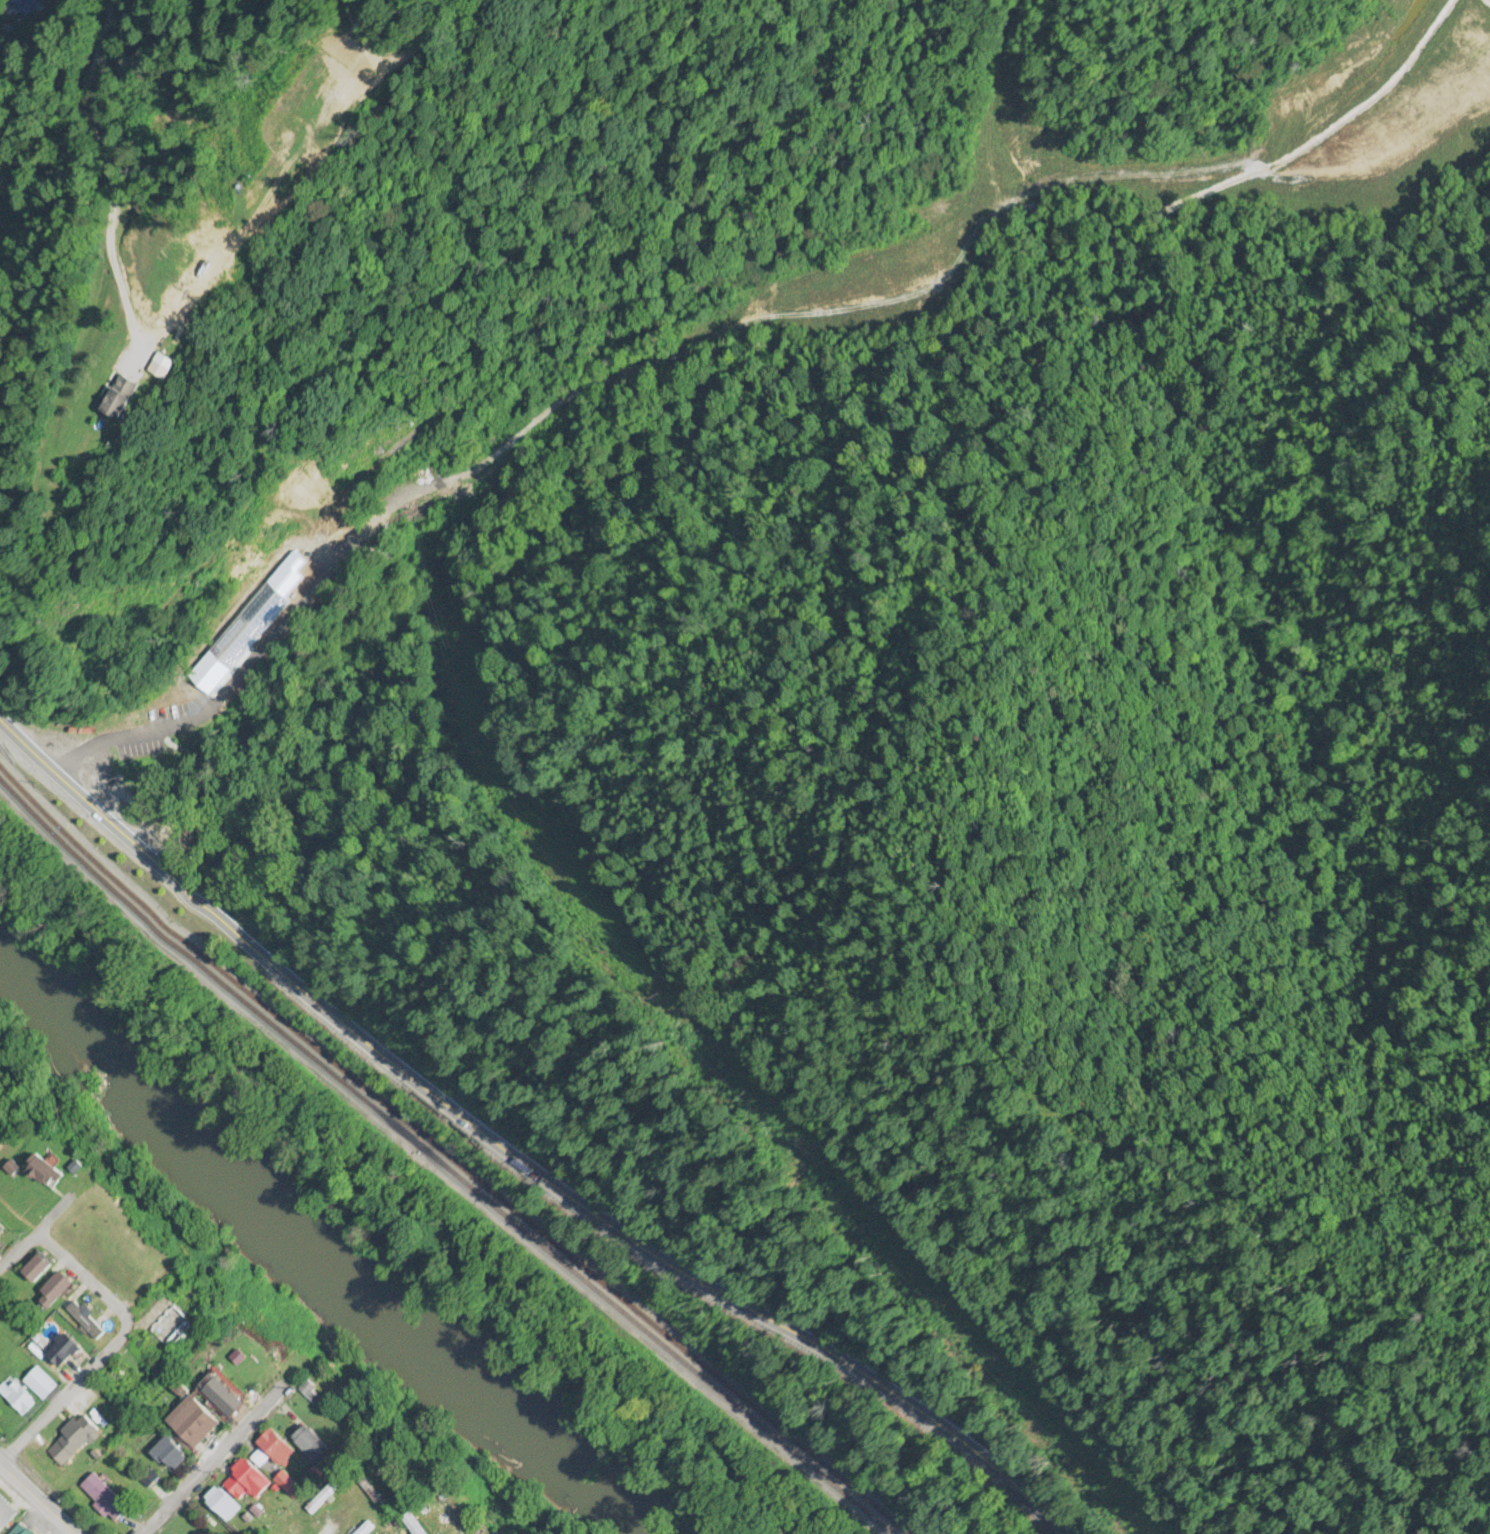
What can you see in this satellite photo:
building: (25, 6)
road: (160, 195)
road: (240, 261)
road: (67, 348)
building: (126, 399)
road: (118, 730)
road: (23, 747)
building: (141, 770)
railway: (437, 1156)
building: (45, 1173)
road: (539, 1178)
road: (52, 1218)
building: (2, 1231)
road: (19, 1252)
building: (38, 1268)
river: (332, 1270)
building: (56, 1291)
building: (86, 1318)
building: (171, 1329)
building: (64, 1350)
road: (111, 1350)
building: (40, 1385)
building: (224, 1398)
building: (20, 1399)
building: (191, 1428)
building: (78, 1435)
building: (314, 1446)
building: (277, 1448)
building: (171, 1452)
road: (235, 1467)
building: (248, 1482)
building: (288, 1487)
building: (324, 1498)
road: (402, 1498)
road: (37, 1499)
building: (104, 1499)
building: (225, 1504)
building: (6, 1517)
building: (412, 1526)
building: (366, 1529)

